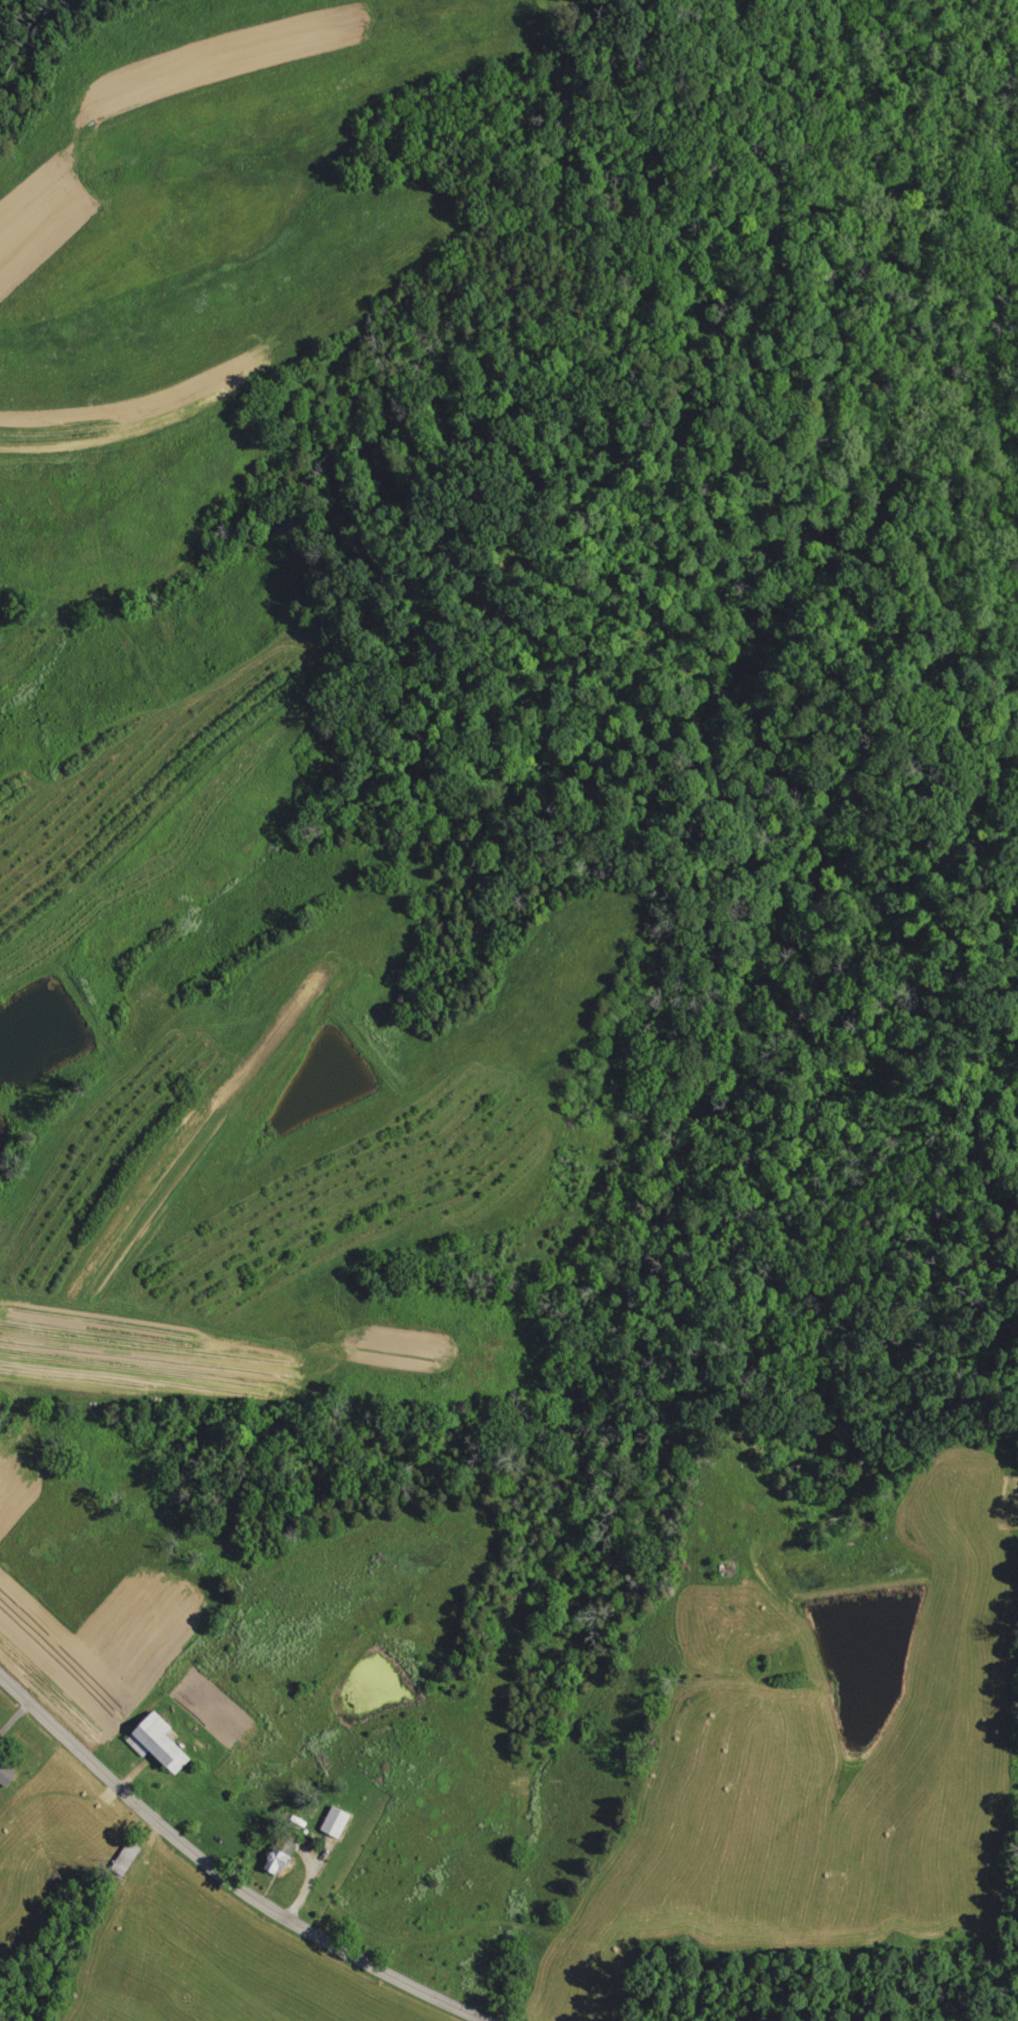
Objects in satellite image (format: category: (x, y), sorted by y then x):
building: (162, 1743)
building: (7, 1773)
building: (339, 1822)
building: (281, 1860)
road: (235, 1881)

